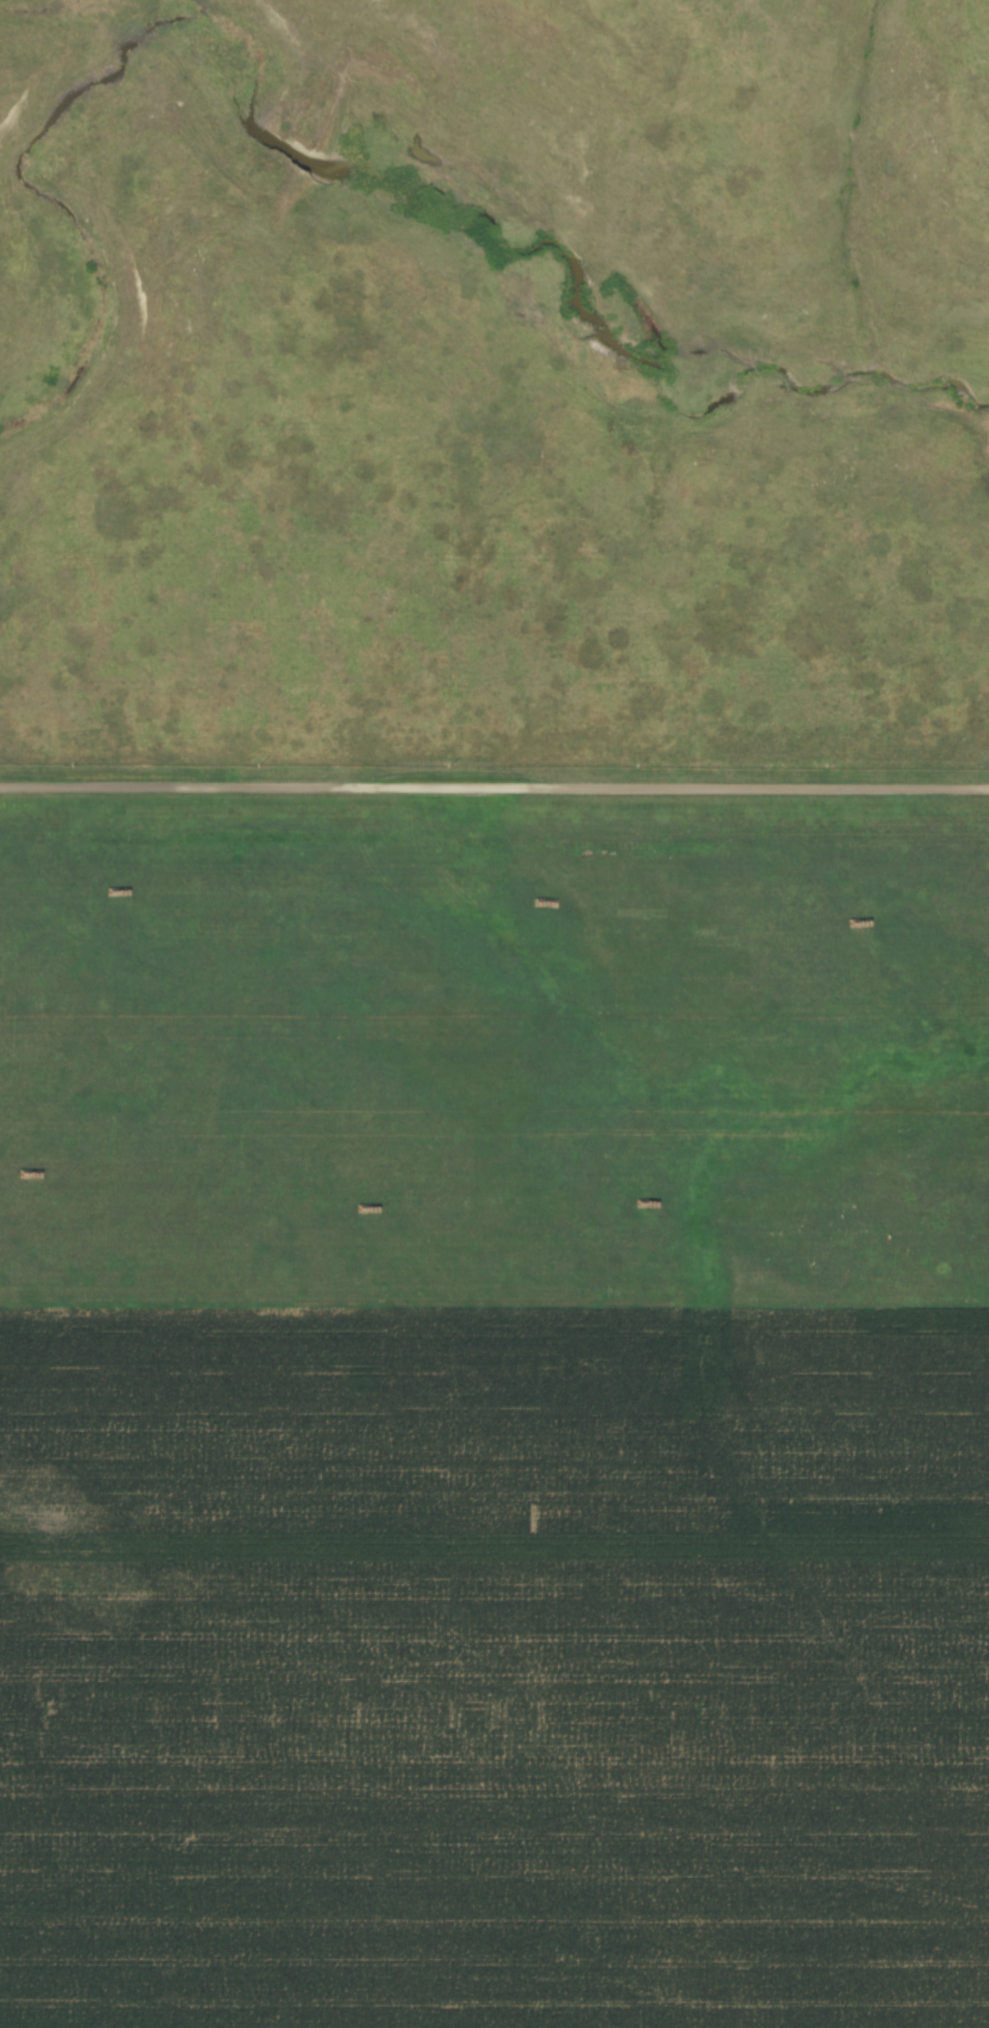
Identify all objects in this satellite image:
road: (494, 797)

